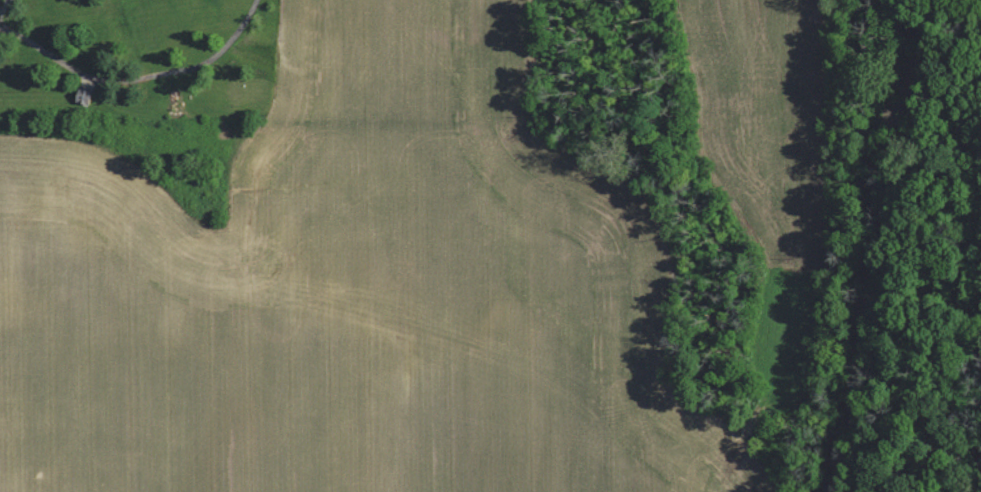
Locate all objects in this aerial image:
road: (2, 4)
road: (134, 73)

